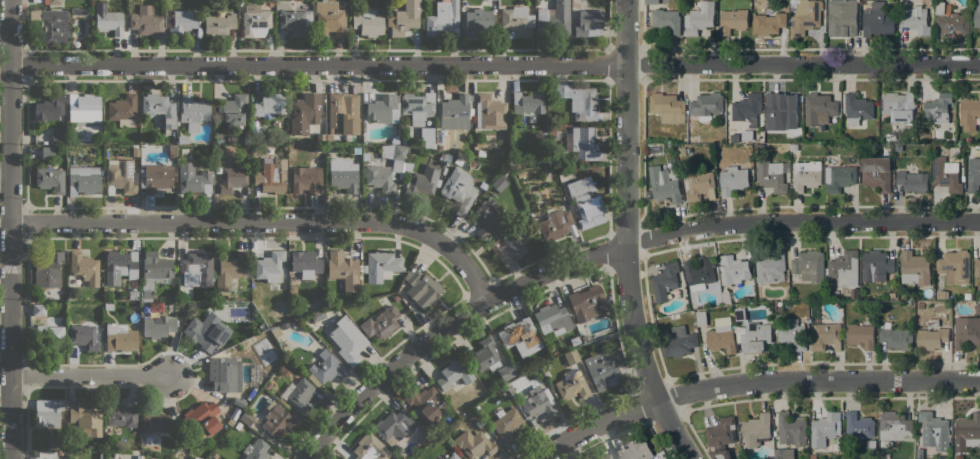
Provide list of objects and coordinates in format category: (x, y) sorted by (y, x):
building: (291, 0)
building: (52, 1)
building: (651, 2)
building: (78, 11)
building: (977, 15)
building: (805, 17)
building: (842, 17)
building: (404, 18)
building: (699, 18)
building: (107, 19)
building: (443, 19)
building: (553, 19)
building: (477, 20)
building: (517, 20)
building: (878, 20)
building: (916, 20)
building: (184, 21)
building: (255, 21)
building: (332, 21)
building: (666, 21)
building: (733, 21)
building: (950, 21)
building: (146, 22)
building: (296, 22)
building: (368, 23)
building: (588, 23)
building: (768, 24)
building: (218, 25)
building: (53, 27)
road: (494, 64)
building: (579, 101)
building: (527, 103)
building: (270, 104)
building: (417, 106)
building: (706, 106)
building: (49, 107)
building: (781, 107)
building: (899, 107)
building: (84, 108)
building: (667, 108)
building: (746, 108)
building: (819, 108)
building: (938, 108)
building: (158, 109)
building: (382, 109)
building: (857, 109)
building: (122, 110)
building: (232, 110)
building: (192, 111)
building: (454, 112)
building: (490, 112)
building: (304, 113)
building: (969, 114)
building: (342, 115)
building: (57, 135)
building: (426, 136)
building: (543, 136)
building: (890, 137)
building: (168, 138)
building: (320, 138)
building: (403, 138)
building: (182, 139)
building: (280, 139)
building: (394, 139)
building: (734, 139)
building: (247, 140)
building: (967, 140)
building: (582, 142)
building: (245, 146)
building: (315, 147)
building: (758, 148)
building: (793, 148)
building: (898, 148)
building: (135, 151)
building: (185, 151)
building: (47, 152)
building: (172, 152)
building: (481, 152)
building: (394, 155)
building: (445, 157)
building: (538, 160)
building: (458, 161)
building: (408, 166)
building: (504, 171)
building: (876, 173)
building: (343, 174)
building: (772, 174)
building: (946, 174)
building: (973, 175)
building: (120, 176)
building: (271, 176)
building: (806, 176)
building: (155, 177)
building: (379, 177)
building: (839, 178)
building: (50, 179)
building: (231, 179)
building: (307, 179)
building: (84, 180)
building: (732, 180)
building: (422, 181)
building: (912, 181)
building: (194, 182)
building: (498, 183)
building: (664, 184)
building: (697, 184)
building: (459, 190)
road: (625, 201)
building: (585, 203)
building: (485, 218)
road: (801, 220)
road: (264, 222)
building: (555, 223)
road: (9, 229)
building: (507, 247)
building: (527, 259)
building: (305, 263)
building: (381, 265)
building: (809, 265)
building: (876, 265)
building: (120, 266)
building: (269, 266)
building: (954, 266)
building: (770, 267)
building: (977, 267)
building: (84, 268)
building: (197, 268)
building: (915, 268)
building: (343, 269)
building: (844, 269)
building: (47, 270)
building: (231, 270)
building: (733, 270)
building: (699, 271)
building: (153, 272)
building: (665, 282)
building: (133, 283)
building: (940, 283)
building: (422, 288)
building: (133, 294)
building: (853, 294)
building: (940, 294)
building: (892, 295)
building: (967, 296)
building: (587, 302)
building: (108, 306)
building: (920, 306)
building: (977, 309)
building: (38, 310)
building: (739, 314)
building: (317, 315)
building: (701, 318)
building: (552, 319)
building: (295, 323)
building: (380, 323)
building: (284, 325)
road: (447, 325)
building: (158, 326)
building: (262, 327)
building: (275, 331)
building: (966, 332)
building: (200, 333)
building: (792, 334)
building: (861, 335)
building: (932, 335)
building: (84, 336)
building: (520, 336)
building: (721, 336)
building: (754, 336)
building: (826, 336)
building: (584, 337)
building: (49, 338)
building: (897, 338)
building: (120, 339)
building: (348, 340)
building: (574, 340)
building: (679, 342)
building: (617, 350)
building: (484, 354)
building: (571, 357)
building: (286, 365)
building: (325, 368)
building: (601, 371)
building: (506, 372)
building: (454, 373)
road: (88, 374)
building: (224, 374)
road: (817, 380)
building: (268, 385)
building: (571, 385)
building: (301, 396)
building: (238, 401)
building: (539, 401)
building: (428, 404)
building: (47, 412)
building: (85, 413)
building: (120, 414)
building: (203, 417)
building: (247, 418)
building: (277, 419)
building: (230, 421)
building: (157, 422)
building: (479, 423)
building: (506, 423)
building: (393, 425)
building: (859, 425)
building: (238, 426)
road: (593, 426)
building: (894, 426)
building: (968, 426)
road: (672, 429)
building: (791, 429)
building: (825, 429)
building: (756, 430)
building: (934, 431)
building: (106, 434)
building: (721, 437)
building: (53, 441)
building: (106, 443)
building: (476, 443)
building: (871, 444)
building: (370, 448)
building: (256, 450)
building: (885, 450)
building: (636, 451)
building: (64, 452)
building: (919, 453)
building: (46, 454)
building: (781, 454)
building: (214, 455)
building: (139, 456)
building: (453, 456)
building: (813, 456)
building: (606, 457)
building: (663, 458)

